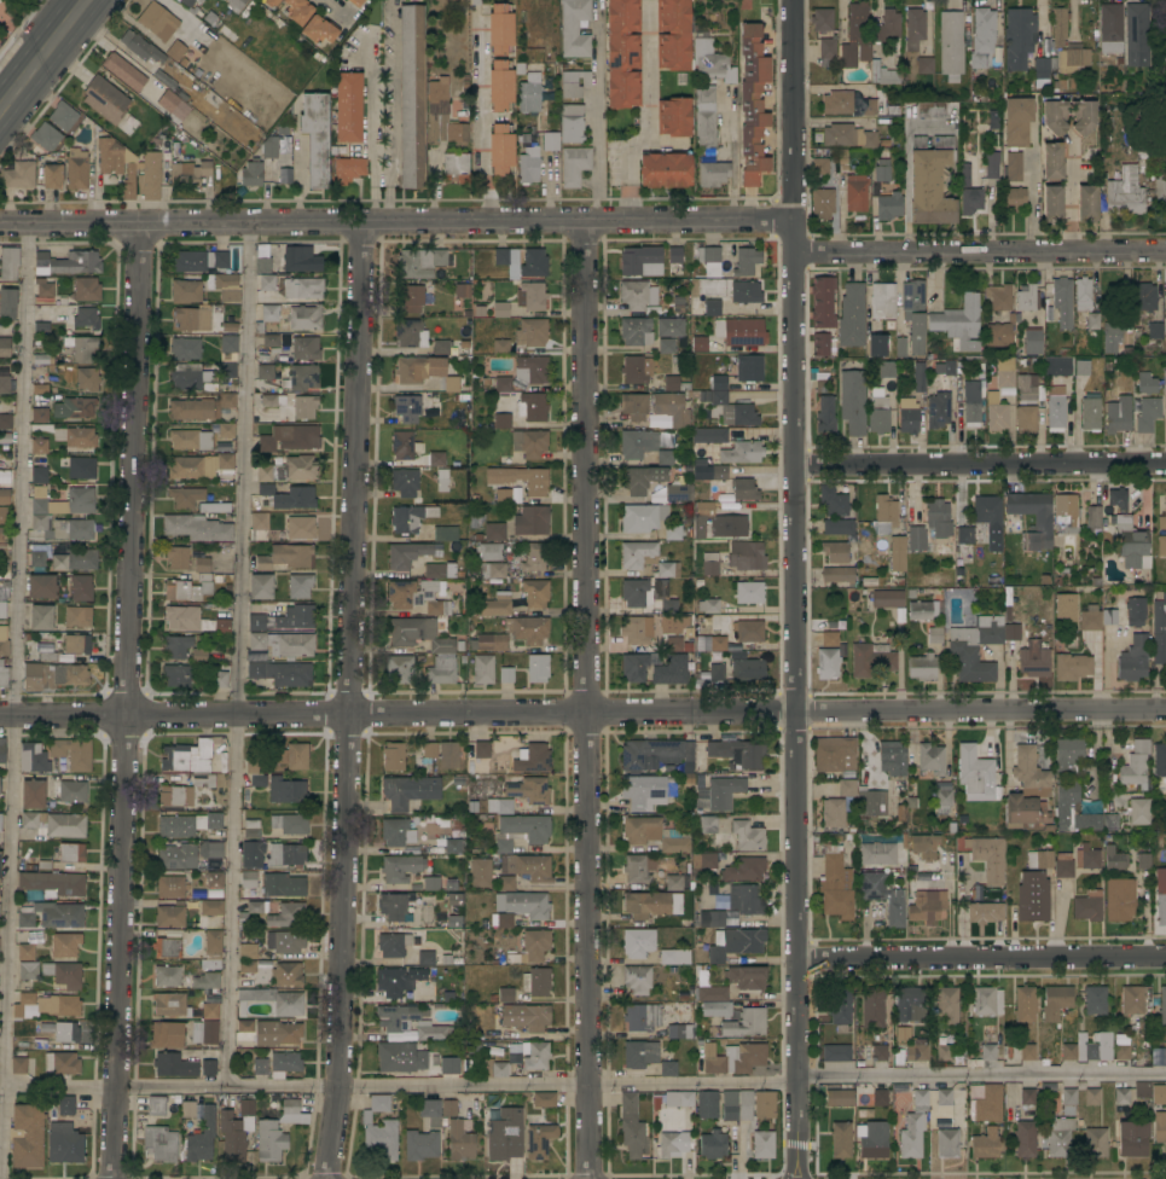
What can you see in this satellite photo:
building: (198, 1)
building: (188, 2)
building: (271, 2)
building: (356, 2)
building: (236, 5)
building: (744, 5)
road: (337, 6)
building: (297, 11)
road: (1072, 19)
building: (822, 21)
building: (887, 25)
building: (574, 28)
building: (913, 28)
building: (1058, 28)
building: (1110, 28)
building: (500, 29)
building: (319, 30)
building: (673, 35)
building: (1137, 35)
building: (167, 36)
building: (855, 37)
building: (1017, 37)
building: (981, 40)
building: (951, 45)
building: (140, 47)
building: (828, 51)
building: (622, 53)
road: (43, 57)
building: (1073, 59)
building: (924, 65)
building: (120, 68)
building: (1044, 70)
building: (883, 74)
building: (162, 77)
building: (573, 83)
building: (1068, 85)
building: (500, 86)
building: (708, 87)
building: (158, 88)
building: (529, 93)
building: (411, 97)
building: (105, 99)
building: (752, 104)
building: (847, 104)
building: (173, 105)
building: (348, 108)
road: (1, 110)
road: (793, 110)
building: (930, 110)
building: (62, 115)
building: (1054, 115)
building: (442, 116)
road: (651, 117)
building: (673, 117)
building: (1083, 117)
road: (598, 118)
road: (481, 120)
building: (1017, 122)
building: (572, 123)
road: (373, 132)
building: (46, 137)
building: (848, 137)
building: (315, 138)
building: (550, 140)
building: (268, 147)
building: (500, 150)
building: (1164, 150)
road: (735, 153)
building: (1145, 157)
building: (1052, 162)
building: (117, 164)
building: (992, 164)
building: (574, 165)
building: (456, 167)
building: (528, 167)
building: (819, 167)
building: (76, 169)
building: (348, 169)
building: (665, 169)
building: (882, 170)
building: (188, 173)
building: (251, 173)
building: (713, 174)
building: (19, 175)
building: (52, 176)
building: (150, 176)
building: (930, 181)
building: (1007, 185)
road: (1036, 188)
building: (854, 190)
building: (1125, 192)
building: (1160, 192)
building: (970, 202)
building: (1052, 203)
building: (1086, 203)
building: (822, 204)
building: (888, 205)
road: (396, 220)
road: (980, 250)
building: (674, 255)
building: (234, 256)
building: (505, 256)
building: (262, 259)
building: (301, 260)
building: (199, 261)
building: (640, 261)
building: (709, 261)
building: (68, 262)
building: (419, 262)
building: (746, 262)
building: (8, 263)
building: (534, 263)
building: (669, 272)
building: (43, 288)
building: (227, 288)
building: (267, 288)
building: (302, 288)
building: (86, 289)
building: (186, 291)
building: (462, 291)
building: (746, 292)
building: (1083, 294)
building: (633, 295)
building: (532, 296)
building: (652, 296)
building: (999, 297)
building: (1027, 297)
building: (1144, 297)
building: (410, 298)
building: (63, 301)
building: (678, 301)
building: (882, 301)
building: (1062, 301)
building: (822, 302)
building: (7, 303)
building: (1164, 304)
building: (706, 307)
building: (500, 309)
building: (652, 309)
building: (678, 309)
building: (480, 310)
building: (1049, 310)
building: (913, 314)
building: (460, 315)
building: (852, 315)
building: (232, 316)
building: (82, 318)
building: (304, 318)
building: (192, 319)
building: (266, 319)
building: (433, 321)
building: (959, 323)
building: (41, 326)
building: (1092, 326)
building: (230, 327)
building: (669, 327)
building: (1165, 330)
building: (1155, 331)
building: (407, 332)
building: (532, 332)
building: (636, 332)
building: (743, 332)
building: (1000, 332)
building: (1137, 332)
building: (1113, 335)
building: (423, 338)
building: (271, 341)
building: (1032, 343)
building: (228, 344)
building: (700, 344)
building: (820, 344)
building: (874, 345)
building: (5, 347)
building: (81, 347)
building: (501, 347)
building: (666, 347)
building: (1165, 347)
building: (185, 348)
building: (304, 348)
building: (436, 348)
building: (900, 348)
building: (280, 350)
building: (230, 358)
building: (280, 358)
building: (42, 359)
building: (944, 367)
building: (1081, 367)
building: (51, 368)
building: (60, 368)
building: (749, 368)
building: (961, 368)
building: (1062, 368)
building: (284, 370)
building: (418, 370)
building: (532, 370)
building: (636, 370)
building: (887, 370)
building: (2, 371)
building: (265, 372)
building: (1004, 372)
building: (207, 374)
building: (1165, 374)
building: (301, 377)
building: (918, 377)
building: (87, 379)
building: (186, 379)
building: (719, 383)
building: (823, 383)
building: (1145, 383)
building: (5, 384)
building: (451, 384)
building: (503, 384)
building: (227, 385)
building: (677, 385)
building: (208, 387)
building: (40, 388)
building: (54, 390)
building: (719, 399)
building: (272, 400)
building: (852, 401)
building: (971, 402)
building: (633, 406)
building: (1026, 406)
building: (74, 407)
building: (304, 407)
building: (532, 407)
building: (406, 408)
building: (672, 408)
building: (1055, 408)
building: (191, 410)
building: (938, 410)
building: (1090, 411)
building: (997, 413)
building: (744, 414)
building: (825, 414)
building: (1118, 414)
building: (1148, 414)
building: (40, 416)
building: (878, 416)
building: (907, 416)
building: (5, 422)
building: (501, 422)
building: (226, 430)
building: (58, 437)
building: (80, 437)
building: (5, 439)
building: (290, 439)
building: (190, 440)
building: (529, 442)
building: (706, 442)
building: (39, 446)
building: (224, 446)
building: (404, 446)
building: (644, 447)
building: (742, 452)
building: (436, 459)
road: (981, 461)
building: (201, 466)
building: (81, 467)
building: (288, 470)
building: (719, 472)
building: (39, 475)
building: (5, 476)
building: (640, 478)
building: (529, 480)
building: (443, 481)
building: (405, 482)
building: (744, 489)
building: (677, 493)
building: (5, 494)
building: (266, 494)
building: (503, 495)
building: (185, 496)
building: (298, 496)
building: (39, 499)
building: (1118, 499)
building: (80, 500)
building: (833, 501)
building: (1165, 504)
building: (51, 507)
building: (214, 507)
building: (887, 515)
building: (4, 516)
building: (988, 516)
building: (1072, 517)
building: (410, 518)
building: (639, 518)
building: (938, 518)
building: (532, 521)
building: (720, 521)
building: (1043, 521)
building: (259, 527)
building: (698, 527)
building: (839, 527)
building: (63, 528)
building: (196, 528)
building: (301, 528)
building: (494, 532)
building: (672, 532)
building: (690, 532)
building: (445, 534)
building: (0, 535)
building: (965, 535)
building: (917, 539)
building: (1132, 542)
building: (1161, 548)
building: (489, 551)
building: (835, 552)
building: (898, 553)
building: (406, 554)
building: (747, 556)
building: (286, 557)
building: (535, 557)
building: (71, 558)
building: (178, 558)
building: (645, 558)
building: (37, 559)
building: (709, 564)
building: (440, 570)
building: (493, 570)
building: (839, 575)
building: (5, 576)
building: (204, 576)
building: (917, 580)
building: (869, 581)
building: (1057, 581)
building: (901, 582)
building: (700, 583)
road: (796, 585)
building: (41, 586)
building: (260, 586)
building: (300, 586)
building: (81, 588)
building: (413, 593)
building: (636, 593)
building: (749, 593)
building: (911, 593)
building: (535, 594)
building: (4, 598)
building: (888, 599)
building: (494, 605)
building: (668, 606)
building: (708, 606)
building: (1066, 608)
building: (437, 609)
building: (920, 611)
building: (1136, 611)
building: (1008, 612)
building: (77, 616)
building: (41, 617)
building: (181, 617)
building: (296, 617)
building: (1109, 617)
building: (1090, 618)
building: (256, 623)
building: (221, 627)
building: (527, 629)
building: (1159, 629)
building: (637, 631)
building: (748, 631)
building: (1011, 632)
building: (935, 633)
building: (418, 634)
building: (829, 639)
building: (4, 641)
building: (257, 641)
building: (492, 643)
building: (76, 644)
building: (677, 644)
building: (718, 644)
building: (292, 645)
building: (460, 645)
building: (176, 646)
building: (975, 647)
building: (47, 654)
road: (239, 654)
building: (198, 656)
building: (1033, 657)
building: (871, 658)
building: (1133, 658)
building: (463, 660)
building: (656, 660)
building: (1069, 662)
building: (828, 663)
building: (634, 667)
building: (922, 667)
building: (399, 668)
building: (538, 668)
building: (255, 669)
building: (483, 669)
building: (748, 669)
building: (671, 670)
building: (441, 672)
building: (717, 672)
building: (4, 674)
building: (53, 675)
building: (176, 675)
building: (291, 675)
building: (506, 675)
building: (219, 679)
road: (350, 699)
road: (586, 699)
road: (17, 701)
road: (130, 701)
road: (582, 713)
building: (2, 750)
building: (429, 750)
building: (481, 750)
building: (649, 753)
building: (739, 753)
building: (72, 754)
building: (834, 754)
building: (448, 755)
building: (1068, 755)
building: (188, 756)
building: (294, 756)
building: (393, 756)
building: (33, 757)
building: (532, 759)
building: (894, 759)
building: (930, 759)
building: (1160, 760)
building: (222, 761)
building: (1136, 763)
building: (695, 767)
building: (975, 771)
building: (255, 772)
building: (459, 780)
building: (1091, 780)
building: (205, 782)
building: (700, 783)
building: (286, 790)
building: (529, 790)
building: (69, 791)
building: (408, 791)
building: (643, 791)
building: (1027, 791)
building: (724, 792)
building: (31, 794)
building: (174, 796)
building: (863, 796)
building: (944, 797)
building: (500, 806)
building: (1075, 808)
building: (1138, 812)
building: (833, 813)
building: (1109, 821)
building: (187, 824)
building: (289, 824)
building: (54, 825)
building: (456, 825)
building: (708, 825)
building: (251, 829)
building: (393, 831)
building: (521, 831)
building: (0, 832)
building: (214, 835)
building: (655, 835)
building: (748, 836)
building: (452, 846)
building: (923, 847)
building: (210, 849)
building: (71, 853)
building: (253, 854)
building: (877, 854)
building: (285, 855)
building: (178, 856)
building: (988, 858)
building: (1086, 858)
building: (1039, 859)
building: (1114, 859)
building: (703, 860)
building: (1143, 861)
building: (45, 865)
building: (1063, 866)
building: (400, 867)
building: (529, 867)
building: (638, 869)
building: (744, 870)
building: (480, 872)
building: (898, 872)
building: (214, 879)
building: (248, 879)
building: (834, 881)
building: (677, 882)
building: (52, 883)
building: (430, 883)
building: (506, 883)
building: (283, 884)
building: (452, 885)
building: (170, 887)
building: (416, 888)
building: (883, 896)
building: (1032, 896)
building: (1160, 896)
building: (456, 899)
building: (1120, 899)
building: (527, 905)
building: (646, 905)
building: (393, 906)
building: (1087, 906)
building: (211, 907)
building: (733, 907)
building: (926, 907)
building: (251, 912)
building: (985, 912)
building: (286, 914)
building: (62, 916)
building: (25, 917)
building: (169, 917)
building: (501, 920)
building: (454, 922)
building: (35, 936)
building: (285, 941)
building: (213, 942)
building: (638, 943)
building: (735, 943)
building: (65, 945)
building: (393, 945)
building: (419, 945)
building: (532, 946)
building: (167, 947)
building: (248, 951)
building: (25, 952)
road: (981, 952)
building: (674, 957)
building: (425, 958)
building: (447, 960)
building: (246, 966)
building: (28, 971)
building: (286, 974)
building: (63, 976)
building: (746, 977)
building: (184, 978)
building: (637, 978)
building: (401, 980)
building: (536, 982)
building: (706, 988)
building: (505, 995)
building: (681, 995)
building: (448, 997)
building: (211, 999)
building: (274, 1000)
building: (1095, 1000)
building: (1132, 1000)
building: (986, 1001)
building: (1055, 1003)
building: (23, 1004)
building: (169, 1004)
building: (947, 1004)
building: (1025, 1004)
building: (59, 1005)
building: (840, 1005)
building: (909, 1005)
building: (872, 1007)
building: (242, 1009)
building: (717, 1009)
building: (1162, 1009)
building: (209, 1011)
building: (526, 1017)
building: (642, 1017)
building: (398, 1018)
building: (746, 1023)
building: (244, 1027)
building: (66, 1032)
building: (204, 1032)
building: (680, 1032)
building: (277, 1033)
building: (439, 1033)
building: (901, 1033)
building: (167, 1035)
building: (1123, 1038)
building: (40, 1044)
building: (474, 1047)
building: (1096, 1049)
building: (916, 1050)
building: (1009, 1050)
building: (1165, 1050)
building: (1123, 1051)
building: (942, 1052)
building: (1027, 1052)
building: (1068, 1052)
building: (639, 1053)
building: (836, 1053)
building: (880, 1053)
building: (536, 1056)
building: (981, 1056)
building: (400, 1058)
building: (733, 1058)
building: (1044, 1061)
building: (285, 1062)
building: (62, 1063)
building: (181, 1064)
building: (448, 1064)
building: (18, 1065)
road: (797, 1065)
building: (260, 1067)
building: (494, 1069)
building: (668, 1069)
road: (980, 1073)
building: (278, 1075)
road: (401, 1088)
building: (1142, 1090)
building: (1090, 1094)
building: (1159, 1094)
building: (1121, 1096)
building: (1027, 1097)
building: (1069, 1097)
building: (656, 1098)
building: (840, 1098)
building: (944, 1098)
building: (544, 1099)
building: (678, 1099)
building: (863, 1099)
building: (920, 1099)
building: (880, 1102)
building: (985, 1103)
building: (65, 1105)
building: (156, 1105)
building: (707, 1105)
building: (730, 1105)
building: (744, 1105)
building: (765, 1105)
building: (654, 1107)
building: (245, 1108)
building: (449, 1108)
building: (53, 1109)
building: (187, 1109)
building: (292, 1111)
building: (431, 1113)
building: (678, 1123)
building: (946, 1123)
building: (631, 1126)
building: (381, 1127)
building: (1160, 1128)
building: (27, 1136)
building: (505, 1136)
building: (912, 1136)
building: (539, 1137)
building: (1058, 1137)
building: (201, 1138)
building: (231, 1138)
building: (460, 1139)
building: (841, 1139)
building: (872, 1139)
building: (1025, 1139)
building: (1132, 1139)
building: (269, 1140)
building: (64, 1143)
building: (1096, 1143)
building: (158, 1144)
building: (764, 1144)
building: (947, 1144)
building: (985, 1144)
building: (420, 1145)
building: (667, 1145)
building: (713, 1145)

